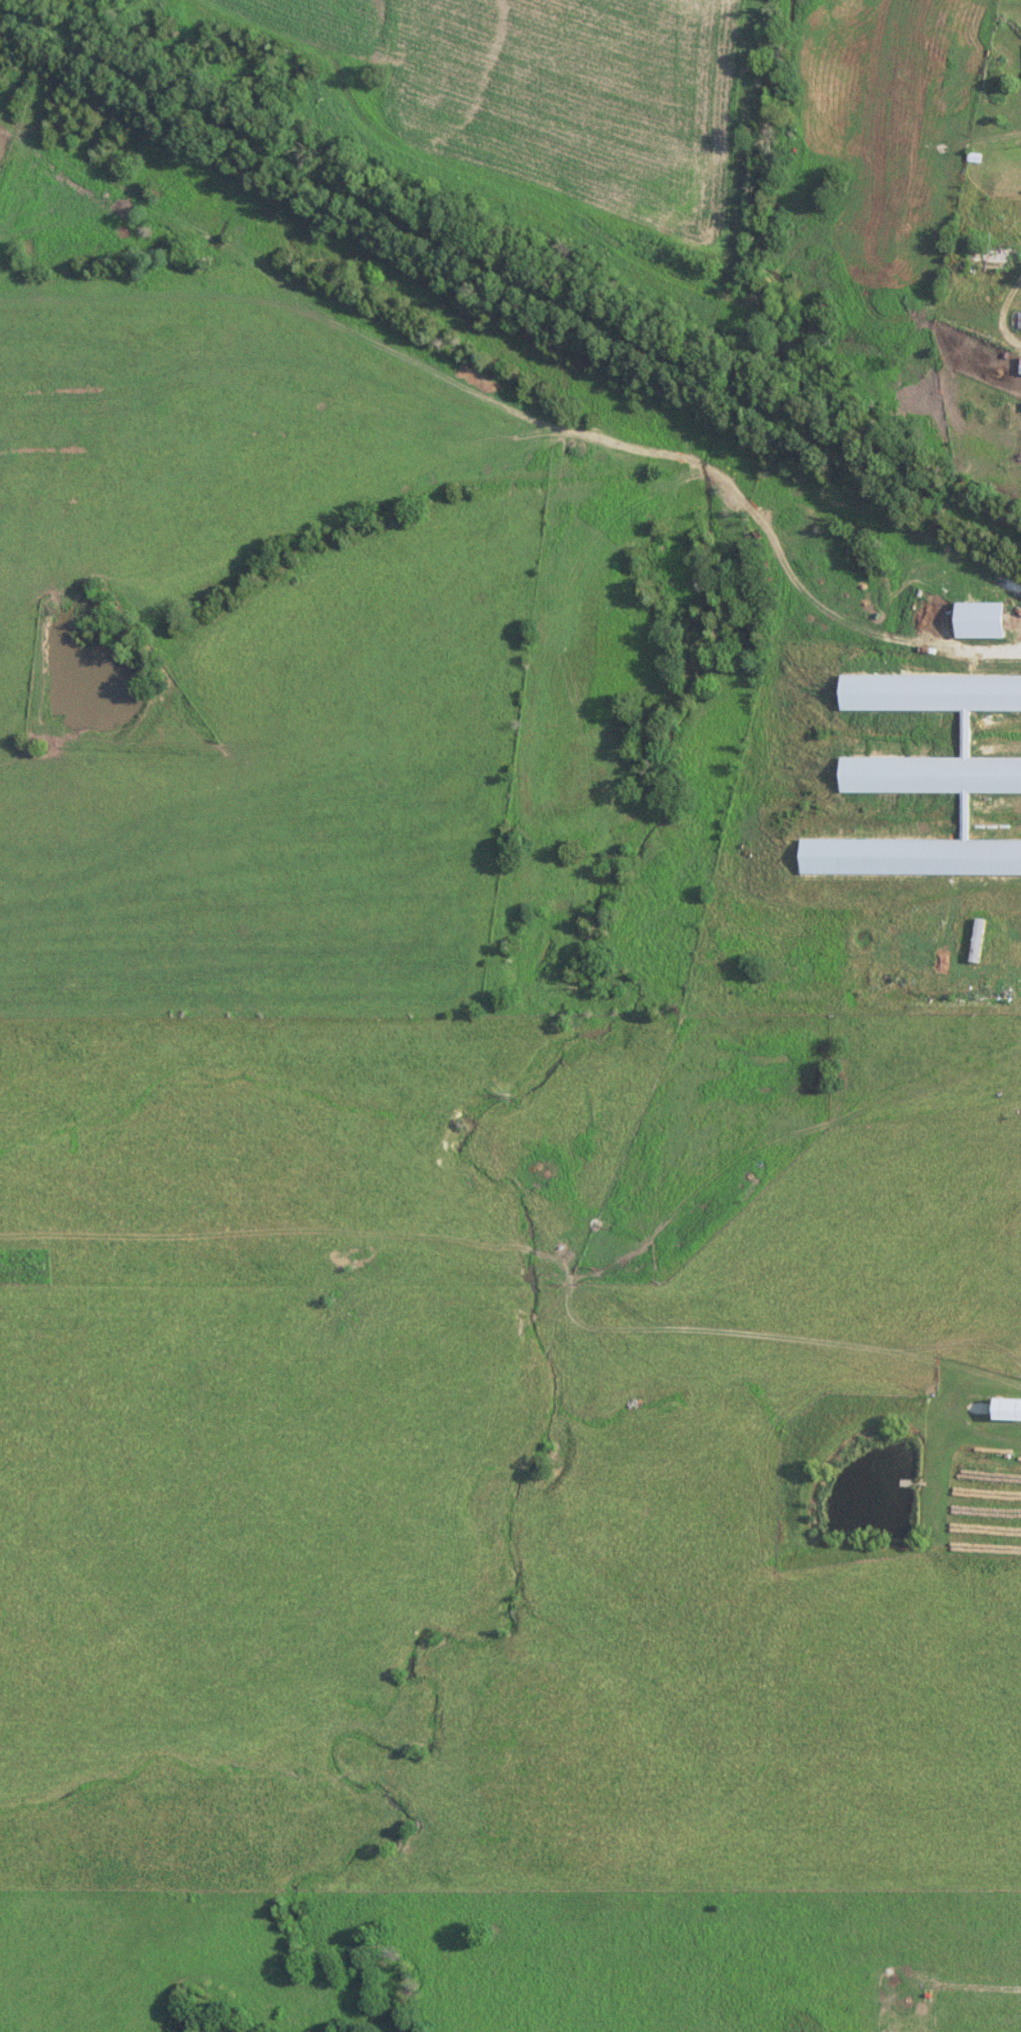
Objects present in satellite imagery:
building: (1019, 323)
building: (1019, 366)
building: (977, 620)
building: (923, 779)
building: (975, 939)
building: (1005, 1408)
building: (905, 2013)

